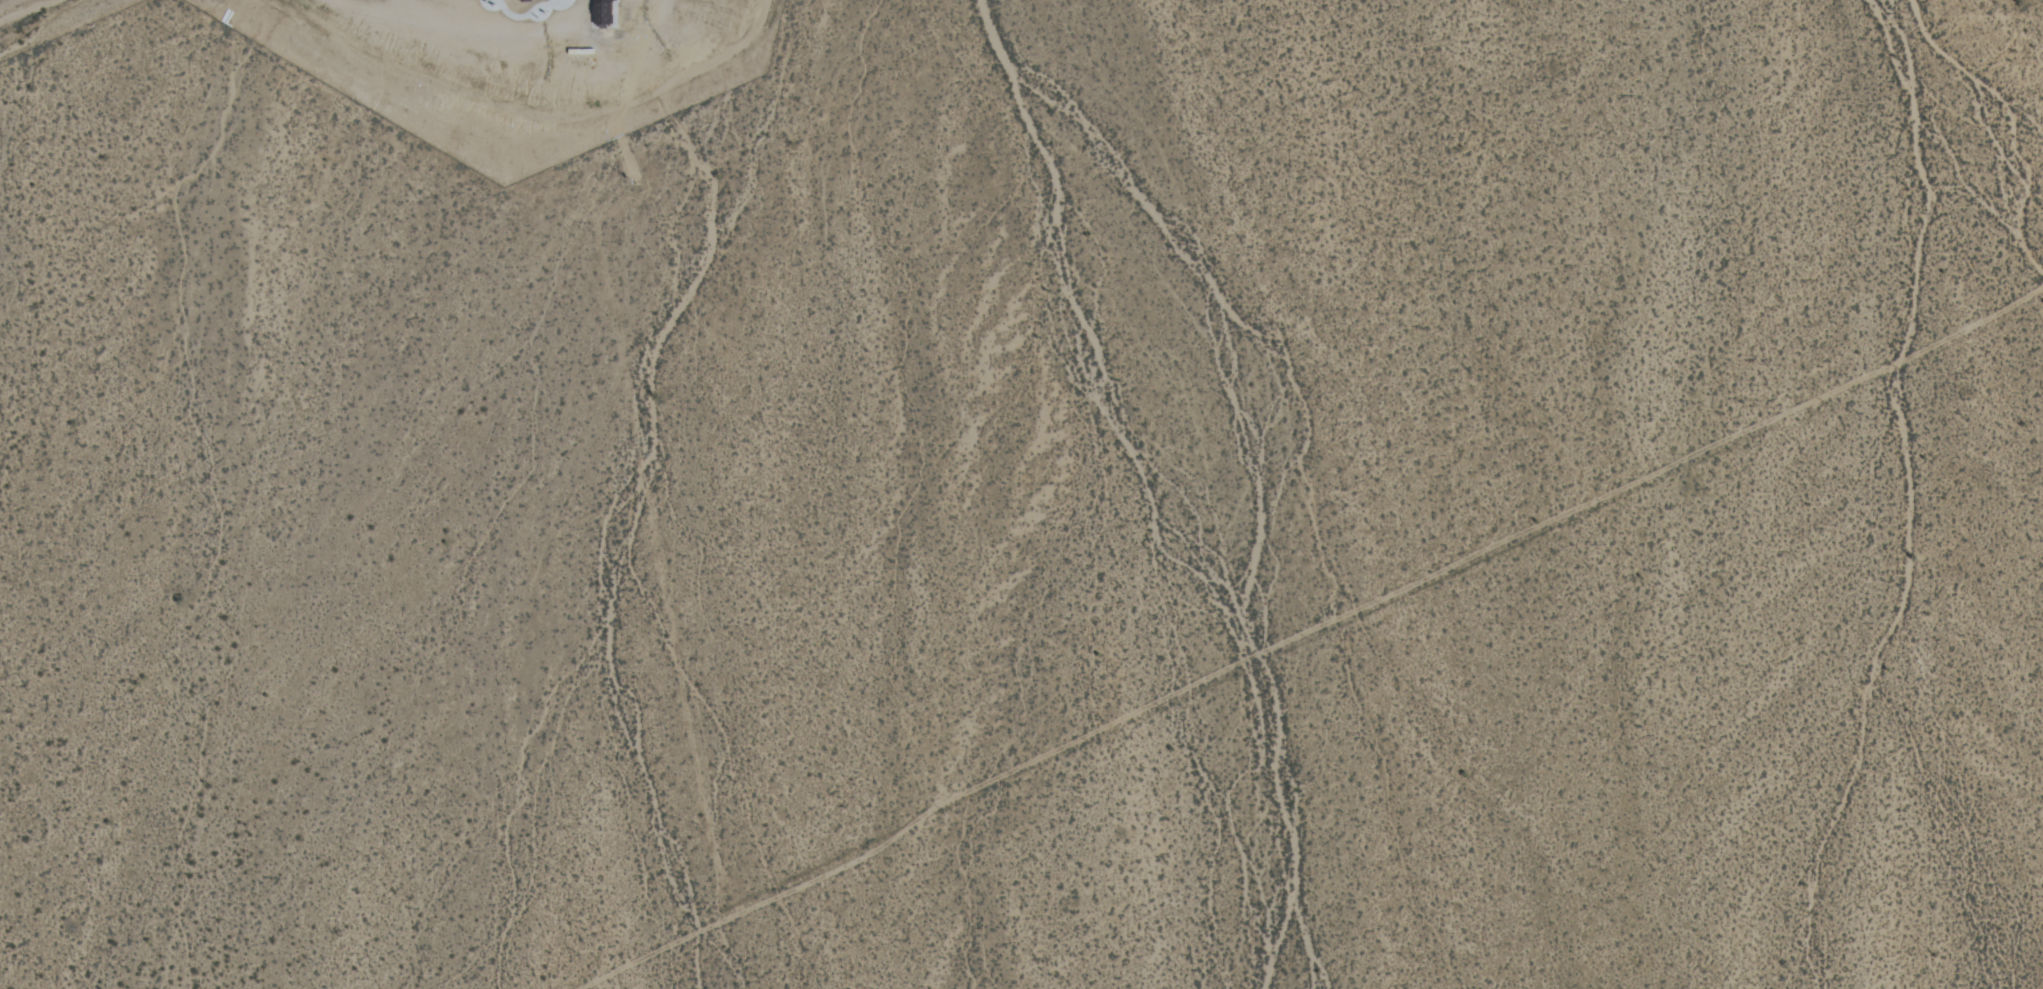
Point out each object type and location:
building: (520, 0)
road: (19, 8)
building: (600, 11)

